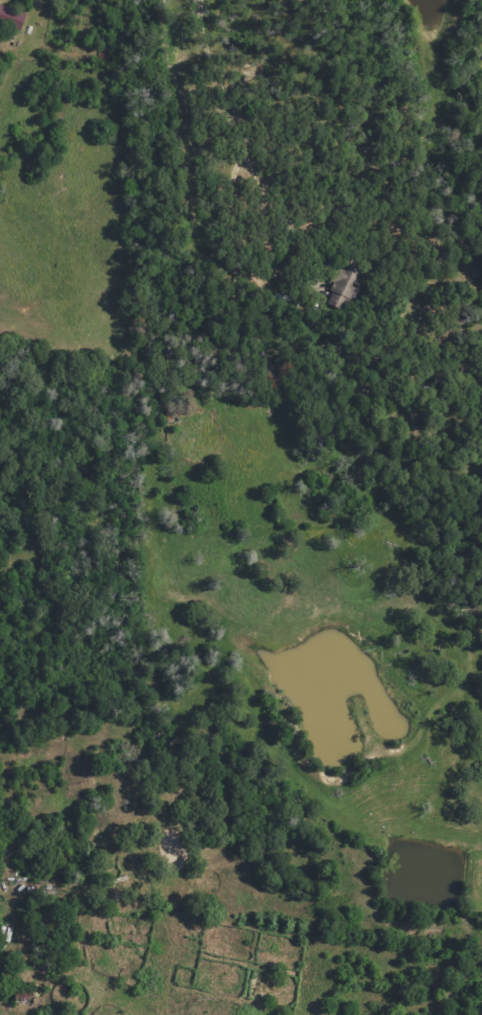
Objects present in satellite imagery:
building: (12, 17)
building: (348, 286)

